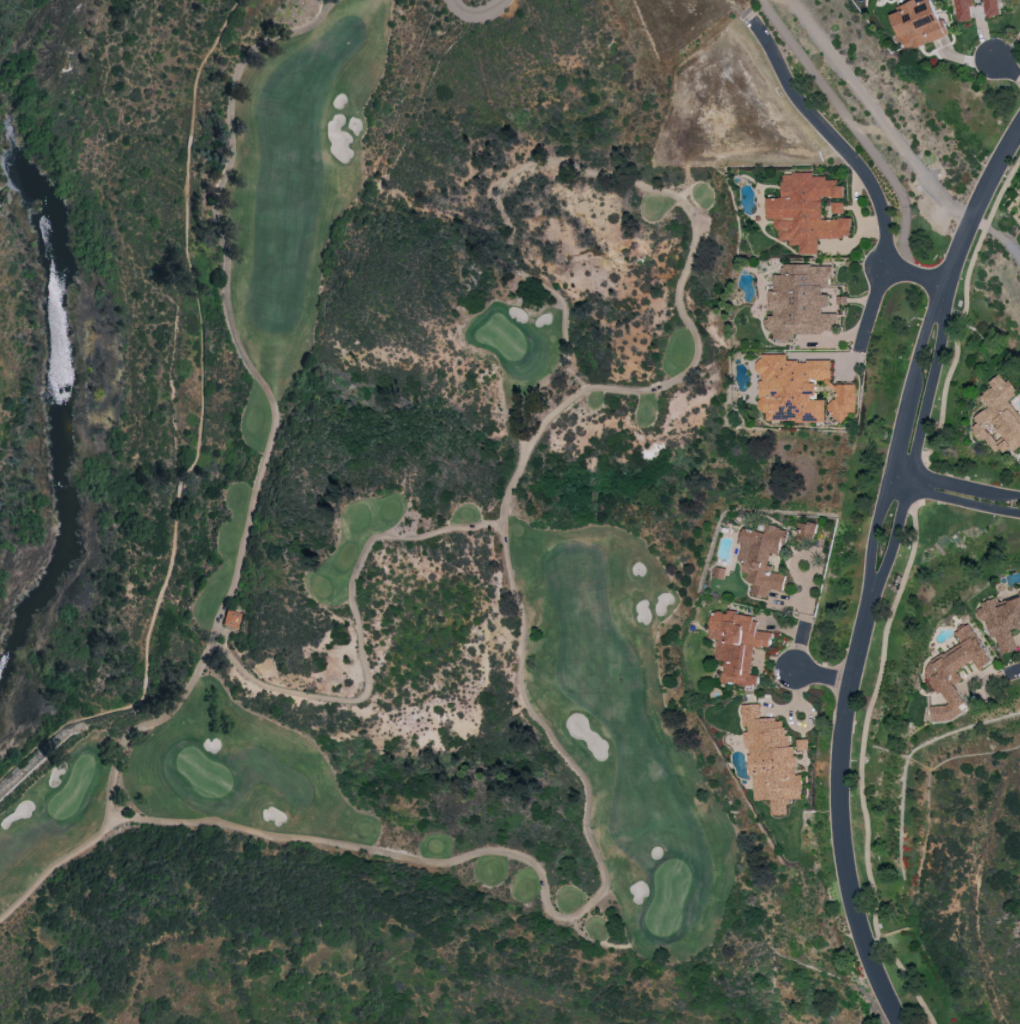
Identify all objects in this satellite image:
building: (993, 8)
building: (964, 9)
road: (475, 12)
building: (918, 24)
road: (1006, 65)
road: (876, 113)
road: (858, 165)
building: (839, 207)
road: (973, 209)
building: (806, 211)
road: (995, 236)
road: (913, 272)
building: (801, 301)
river: (51, 331)
building: (800, 390)
building: (999, 417)
road: (199, 432)
road: (899, 441)
road: (919, 448)
road: (903, 476)
park: (250, 482)
road: (966, 485)
road: (965, 497)
building: (806, 532)
building: (762, 558)
building: (231, 618)
road: (804, 618)
building: (1001, 621)
building: (737, 645)
road: (1019, 667)
road: (826, 673)
building: (954, 673)
building: (770, 760)
road: (837, 811)

